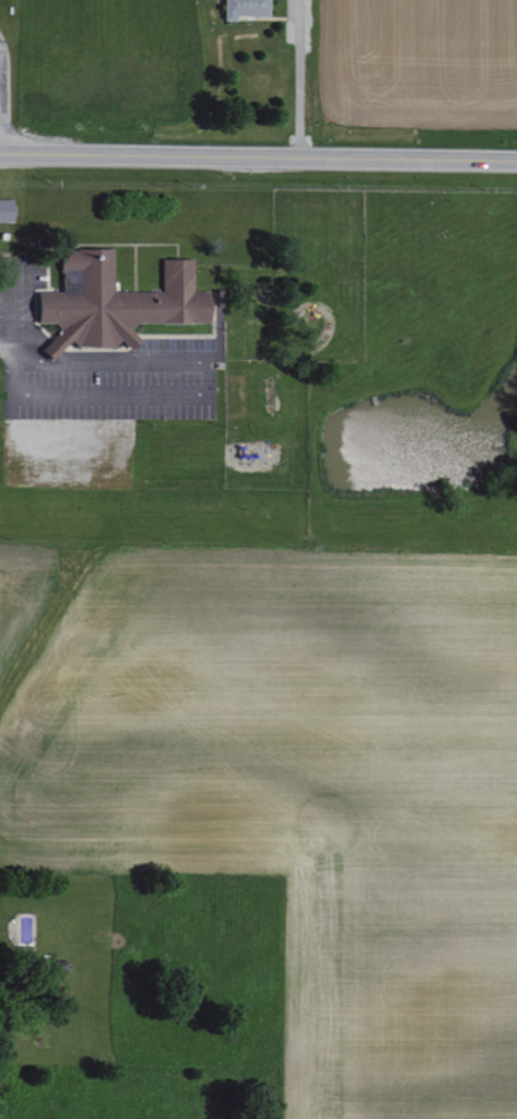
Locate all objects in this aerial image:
building: (246, 8)
road: (2, 66)
road: (297, 84)
road: (0, 137)
road: (258, 156)
building: (7, 209)
road: (8, 298)
building: (116, 302)
road: (7, 350)
road: (208, 394)

